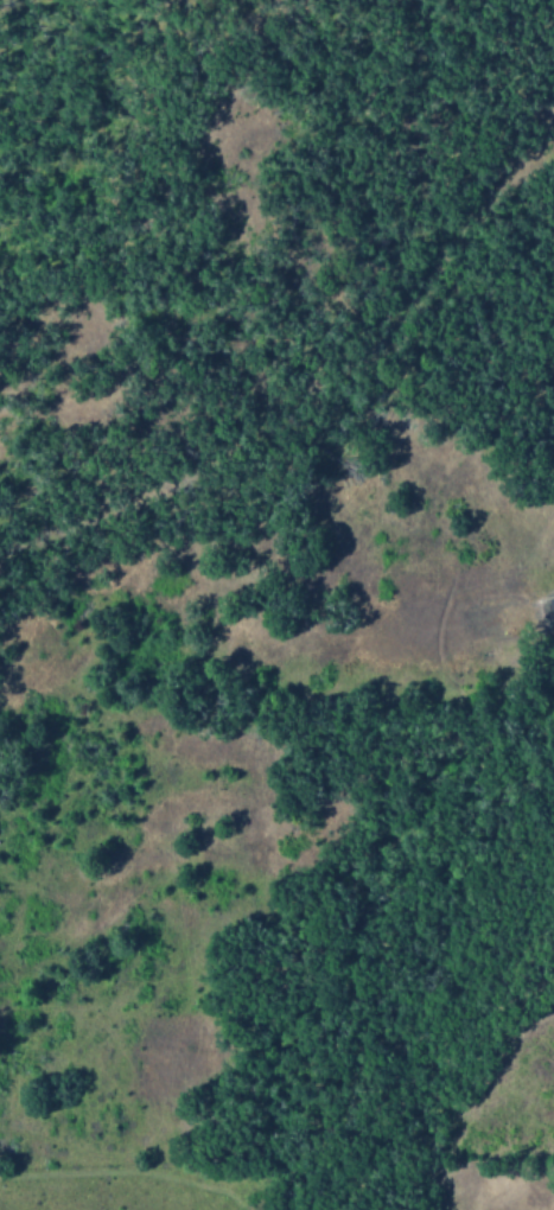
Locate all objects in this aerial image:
road: (549, 609)

